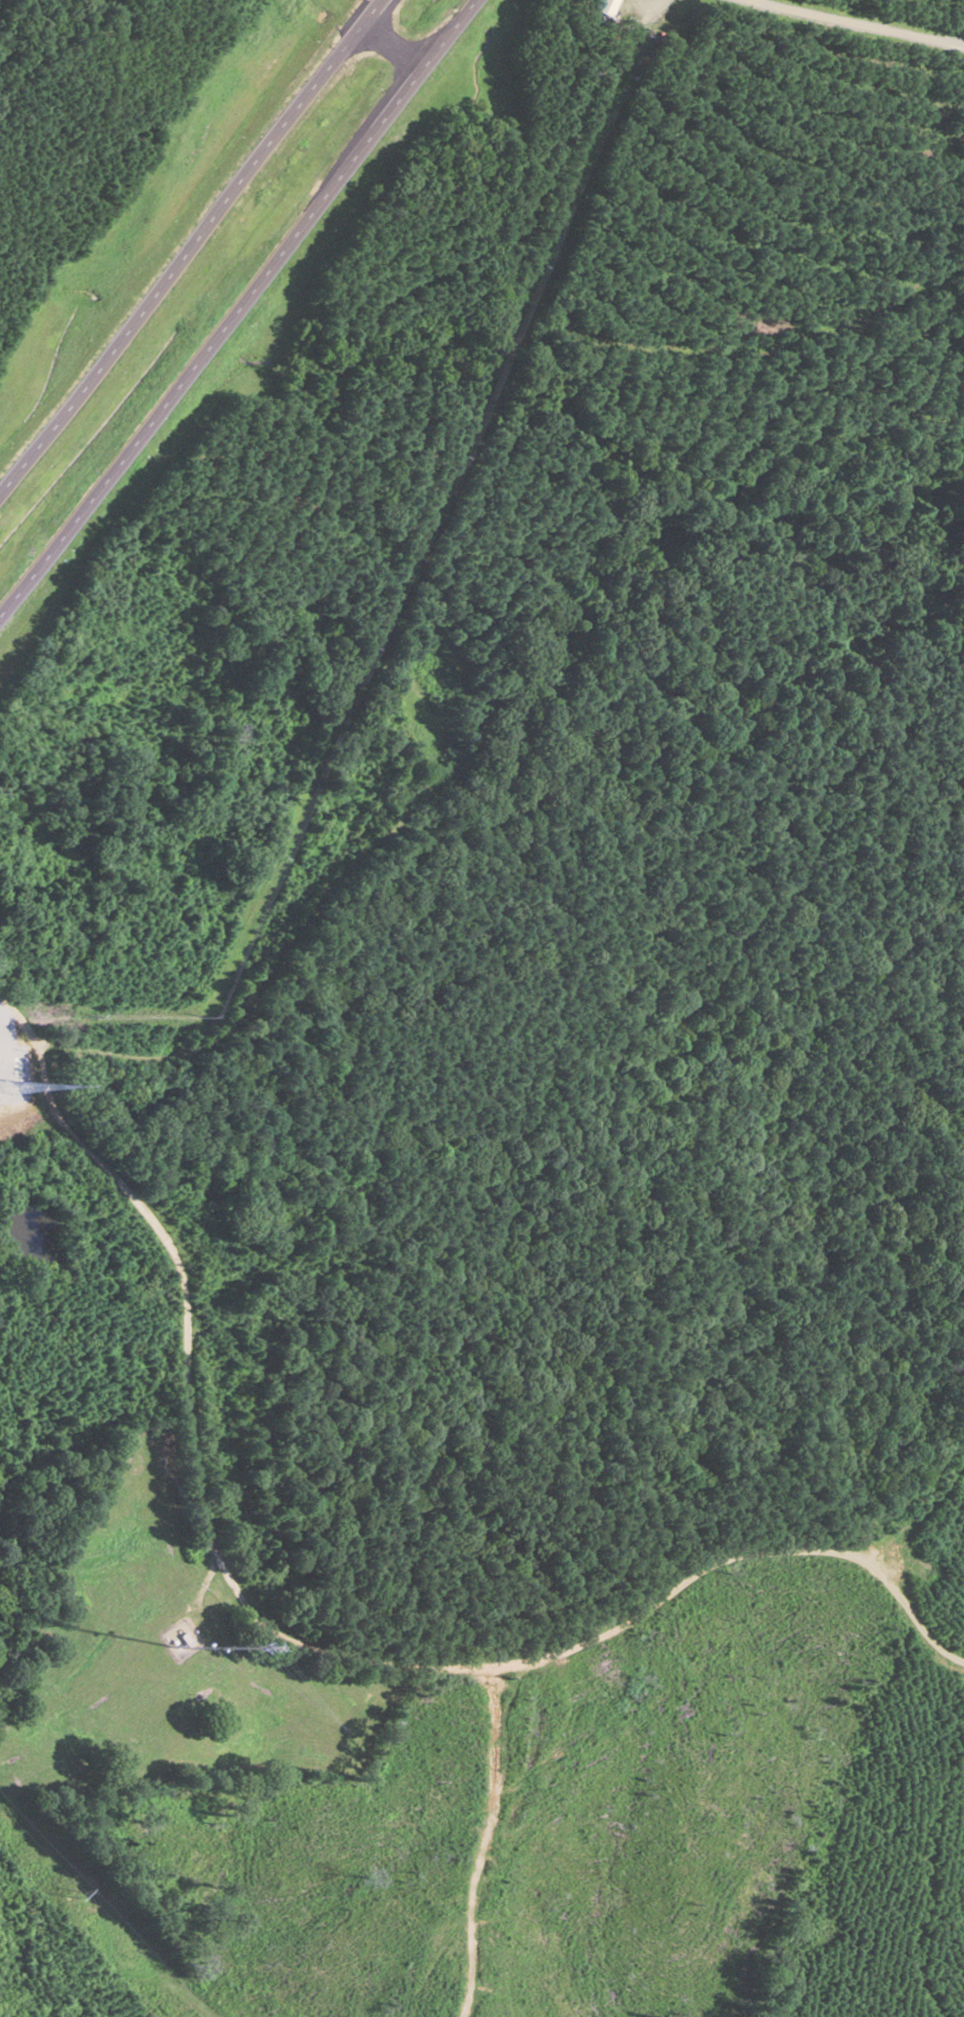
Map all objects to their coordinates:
road: (189, 238)
road: (235, 306)
road: (287, 898)
road: (288, 1653)

